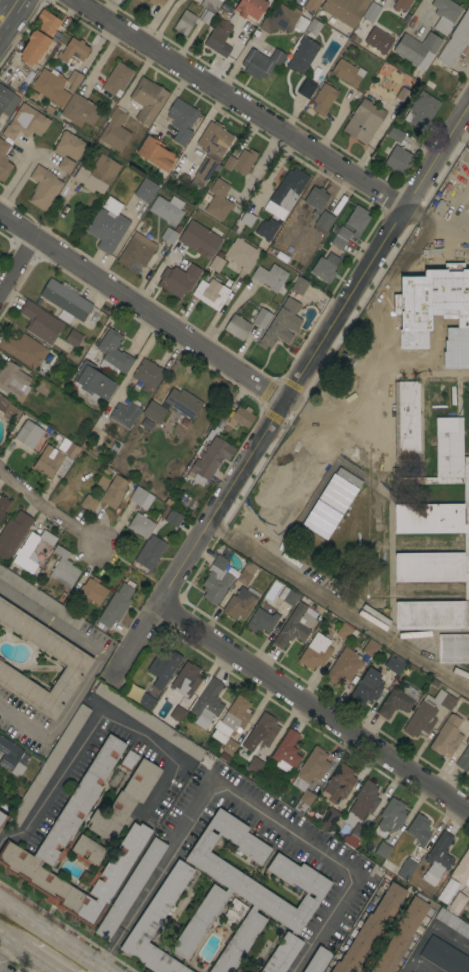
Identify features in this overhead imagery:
building: (139, 0)
building: (140, 0)
building: (220, 0)
building: (289, 0)
building: (393, 0)
building: (157, 2)
building: (311, 4)
building: (210, 5)
building: (400, 5)
building: (226, 8)
building: (248, 8)
road: (7, 10)
building: (345, 10)
building: (371, 12)
building: (223, 15)
building: (445, 15)
building: (205, 16)
road: (156, 21)
building: (282, 21)
building: (185, 22)
building: (313, 27)
building: (238, 30)
building: (39, 37)
building: (219, 37)
building: (378, 40)
building: (455, 41)
building: (416, 47)
building: (73, 50)
building: (301, 55)
road: (103, 56)
building: (260, 62)
building: (347, 72)
building: (74, 78)
building: (117, 79)
building: (51, 87)
building: (306, 88)
building: (402, 95)
road: (170, 99)
building: (323, 99)
building: (147, 100)
building: (7, 101)
road: (239, 105)
building: (421, 110)
building: (79, 111)
building: (181, 120)
building: (364, 121)
building: (26, 122)
road: (333, 125)
building: (114, 130)
building: (395, 134)
building: (214, 139)
building: (67, 150)
building: (155, 153)
building: (4, 161)
building: (398, 161)
building: (240, 162)
road: (260, 168)
building: (203, 172)
road: (271, 173)
building: (97, 174)
building: (43, 188)
building: (145, 190)
building: (286, 191)
building: (316, 199)
building: (218, 200)
building: (111, 205)
building: (166, 209)
road: (420, 212)
road: (439, 213)
building: (247, 218)
building: (357, 219)
building: (323, 222)
building: (266, 229)
building: (107, 230)
building: (343, 233)
building: (169, 234)
building: (199, 239)
building: (337, 242)
building: (136, 251)
building: (242, 254)
road: (16, 262)
building: (217, 262)
building: (323, 270)
road: (158, 272)
building: (271, 278)
building: (178, 279)
building: (299, 285)
building: (211, 293)
road: (387, 295)
building: (65, 301)
building: (438, 305)
building: (464, 305)
road: (141, 307)
building: (407, 313)
building: (260, 316)
building: (40, 323)
building: (281, 325)
building: (237, 326)
building: (72, 338)
building: (23, 350)
building: (113, 354)
building: (466, 362)
building: (443, 363)
building: (148, 374)
building: (13, 381)
building: (92, 383)
building: (42, 387)
road: (289, 392)
road: (373, 398)
building: (445, 402)
building: (183, 403)
building: (8, 409)
building: (154, 412)
building: (124, 414)
road: (305, 414)
building: (237, 417)
building: (28, 434)
building: (63, 445)
building: (71, 450)
building: (208, 460)
building: (48, 461)
building: (101, 483)
road: (294, 490)
building: (114, 492)
building: (140, 498)
building: (89, 503)
building: (3, 506)
road: (47, 513)
building: (429, 513)
building: (171, 517)
building: (140, 525)
building: (13, 534)
building: (31, 551)
building: (150, 551)
building: (63, 569)
building: (216, 580)
building: (92, 590)
building: (242, 594)
building: (288, 596)
building: (40, 598)
road: (339, 604)
building: (115, 606)
building: (261, 621)
building: (295, 625)
building: (344, 631)
building: (370, 647)
building: (453, 648)
building: (315, 652)
building: (73, 659)
building: (395, 666)
building: (163, 667)
building: (345, 667)
road: (89, 670)
building: (186, 679)
building: (367, 687)
building: (144, 700)
building: (397, 700)
building: (207, 703)
road: (313, 710)
building: (177, 713)
building: (427, 713)
building: (232, 719)
building: (468, 719)
building: (148, 721)
road: (96, 722)
building: (263, 730)
building: (447, 736)
building: (229, 746)
building: (286, 752)
building: (10, 756)
building: (463, 759)
building: (128, 760)
building: (49, 765)
building: (253, 765)
building: (311, 768)
building: (339, 783)
road: (243, 800)
building: (124, 801)
building: (303, 802)
building: (362, 803)
building: (390, 817)
building: (2, 818)
building: (329, 819)
building: (419, 830)
building: (60, 833)
building: (354, 835)
building: (382, 849)
building: (87, 851)
building: (437, 859)
building: (406, 868)
building: (462, 870)
building: (130, 888)
building: (446, 891)
building: (243, 892)
building: (456, 903)
building: (466, 906)
building: (233, 912)
building: (451, 920)
building: (157, 922)
building: (370, 929)
road: (430, 931)
building: (401, 935)
road: (52, 936)
road: (5, 950)
road: (27, 953)
building: (282, 954)
building: (444, 956)
building: (318, 960)
road: (422, 965)
road: (40, 968)

